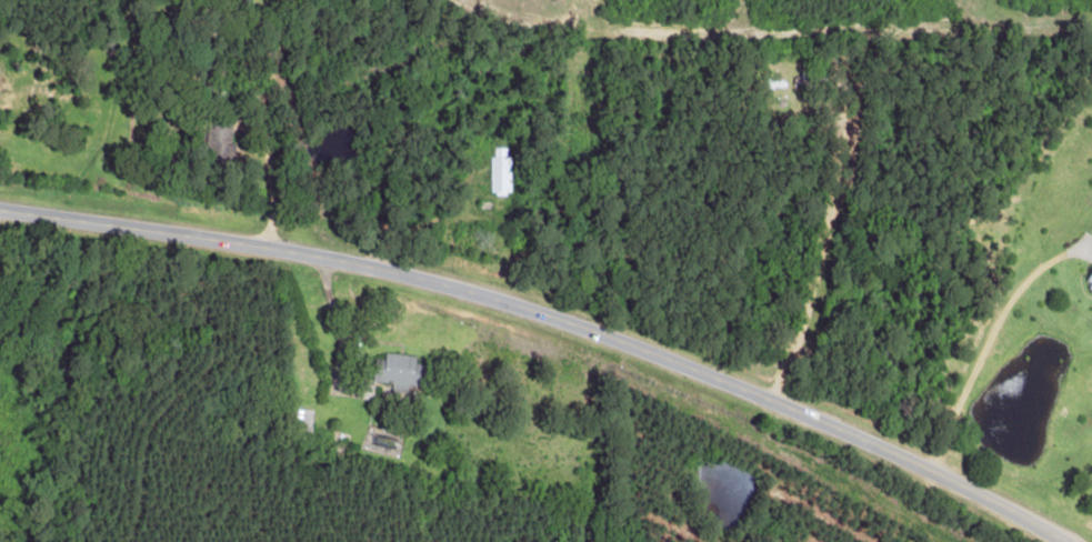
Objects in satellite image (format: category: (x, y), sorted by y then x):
road: (270, 151)
building: (500, 169)
building: (1089, 283)
road: (548, 319)
building: (398, 371)
building: (304, 420)

